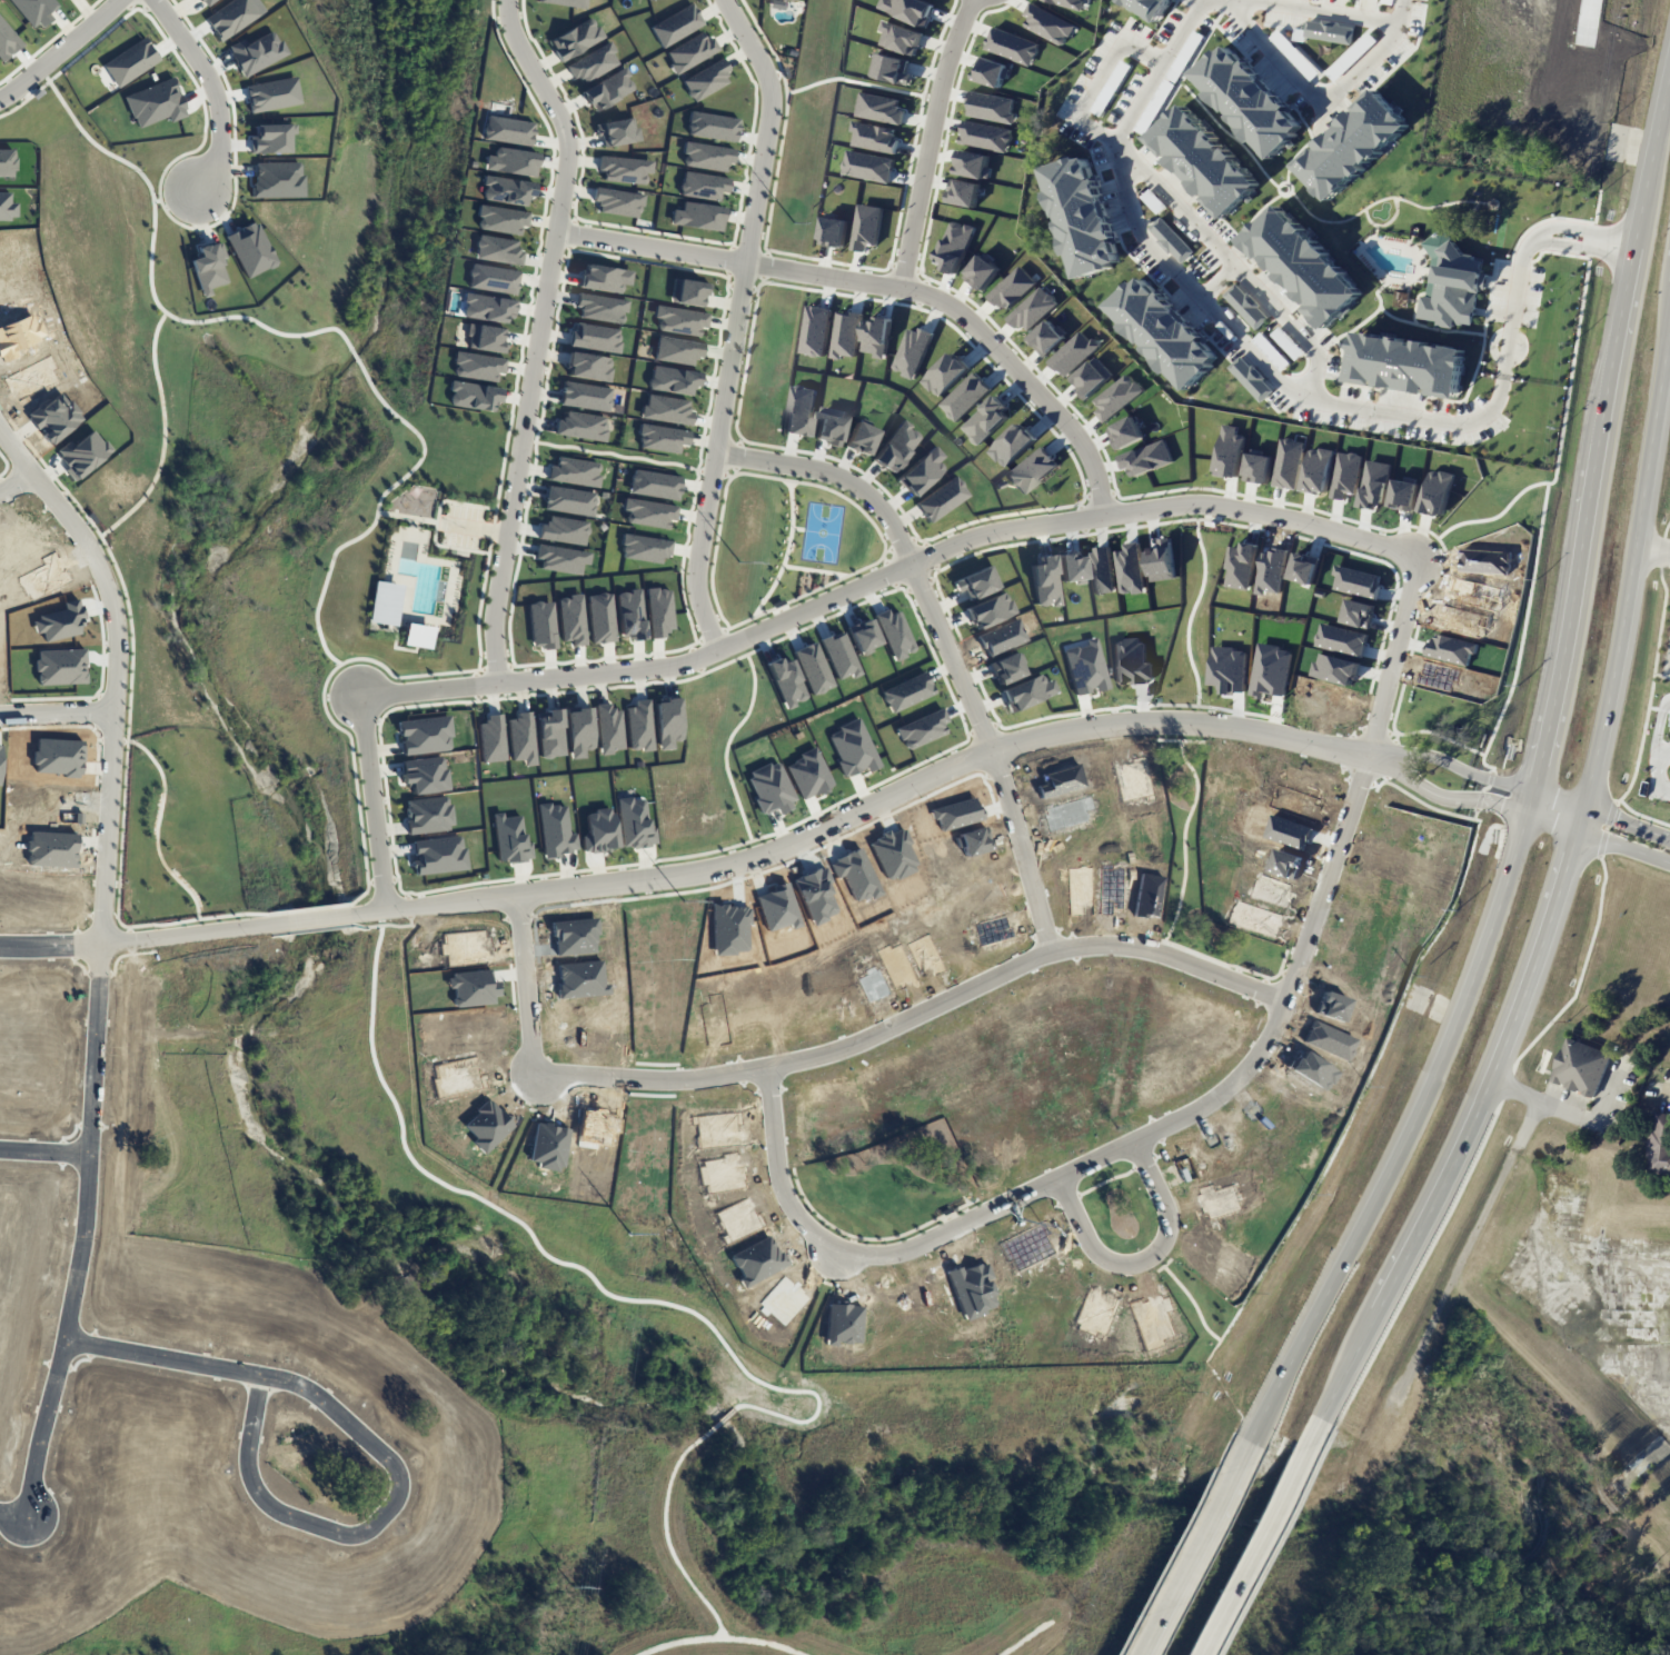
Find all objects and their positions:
building: (568, 3)
building: (1150, 7)
road: (1319, 11)
building: (676, 26)
building: (1329, 30)
building: (576, 39)
road: (60, 48)
building: (690, 52)
building: (593, 63)
building: (706, 79)
road: (1099, 80)
building: (608, 89)
road: (213, 92)
road: (1314, 93)
building: (1249, 100)
building: (713, 126)
building: (507, 130)
building: (617, 131)
road: (930, 140)
building: (1352, 144)
building: (706, 156)
road: (1653, 159)
building: (1204, 160)
building: (511, 161)
building: (974, 163)
building: (625, 169)
building: (703, 186)
building: (507, 190)
building: (965, 192)
building: (617, 202)
building: (1082, 215)
building: (698, 216)
building: (501, 219)
power tower: (792, 222)
building: (867, 226)
building: (834, 231)
building: (1171, 239)
building: (955, 245)
building: (498, 249)
road: (1229, 260)
building: (1303, 265)
building: (983, 270)
building: (604, 278)
building: (493, 279)
road: (884, 282)
building: (1453, 285)
building: (1012, 287)
building: (688, 292)
building: (1246, 306)
building: (487, 308)
building: (600, 308)
building: (1033, 308)
building: (679, 320)
road: (735, 322)
road: (1622, 328)
building: (1164, 331)
road: (538, 333)
building: (846, 333)
building: (877, 335)
building: (595, 337)
building: (1047, 337)
building: (486, 338)
building: (677, 350)
building: (913, 350)
building: (1406, 365)
building: (477, 366)
building: (588, 367)
building: (946, 373)
building: (1251, 378)
building: (672, 380)
road: (1293, 389)
building: (474, 396)
building: (585, 396)
building: (965, 396)
building: (665, 409)
building: (986, 419)
building: (581, 426)
building: (660, 438)
building: (574, 471)
road: (17, 480)
building: (654, 485)
building: (568, 500)
building: (647, 512)
building: (563, 530)
road: (1371, 539)
road: (1653, 542)
building: (644, 548)
building: (560, 559)
power tower: (736, 562)
road: (1632, 570)
road: (1573, 600)
building: (385, 602)
building: (658, 611)
building: (629, 615)
building: (599, 617)
building: (570, 619)
building: (541, 625)
building: (418, 636)
road: (945, 644)
road: (58, 712)
road: (1659, 725)
building: (639, 726)
building: (608, 728)
building: (579, 731)
building: (549, 732)
building: (491, 738)
building: (521, 738)
road: (1462, 767)
road: (1656, 770)
road: (1453, 798)
road: (1560, 798)
road: (1618, 798)
road: (1532, 801)
road: (1581, 817)
road: (1553, 820)
road: (1627, 821)
road: (1623, 845)
road: (707, 868)
power tower: (683, 900)
road: (101, 954)
road: (835, 1053)
building: (1584, 1065)
road: (1493, 1076)
road: (1515, 1089)
road: (1409, 1135)
building: (1664, 1146)
road: (44, 1151)
power tower: (629, 1228)
road: (1430, 1245)
road: (1147, 1262)
road: (1349, 1366)
road: (377, 1448)
road: (10, 1508)
road: (1259, 1537)
road: (1272, 1539)
road: (1192, 1547)
power tower: (571, 1587)

